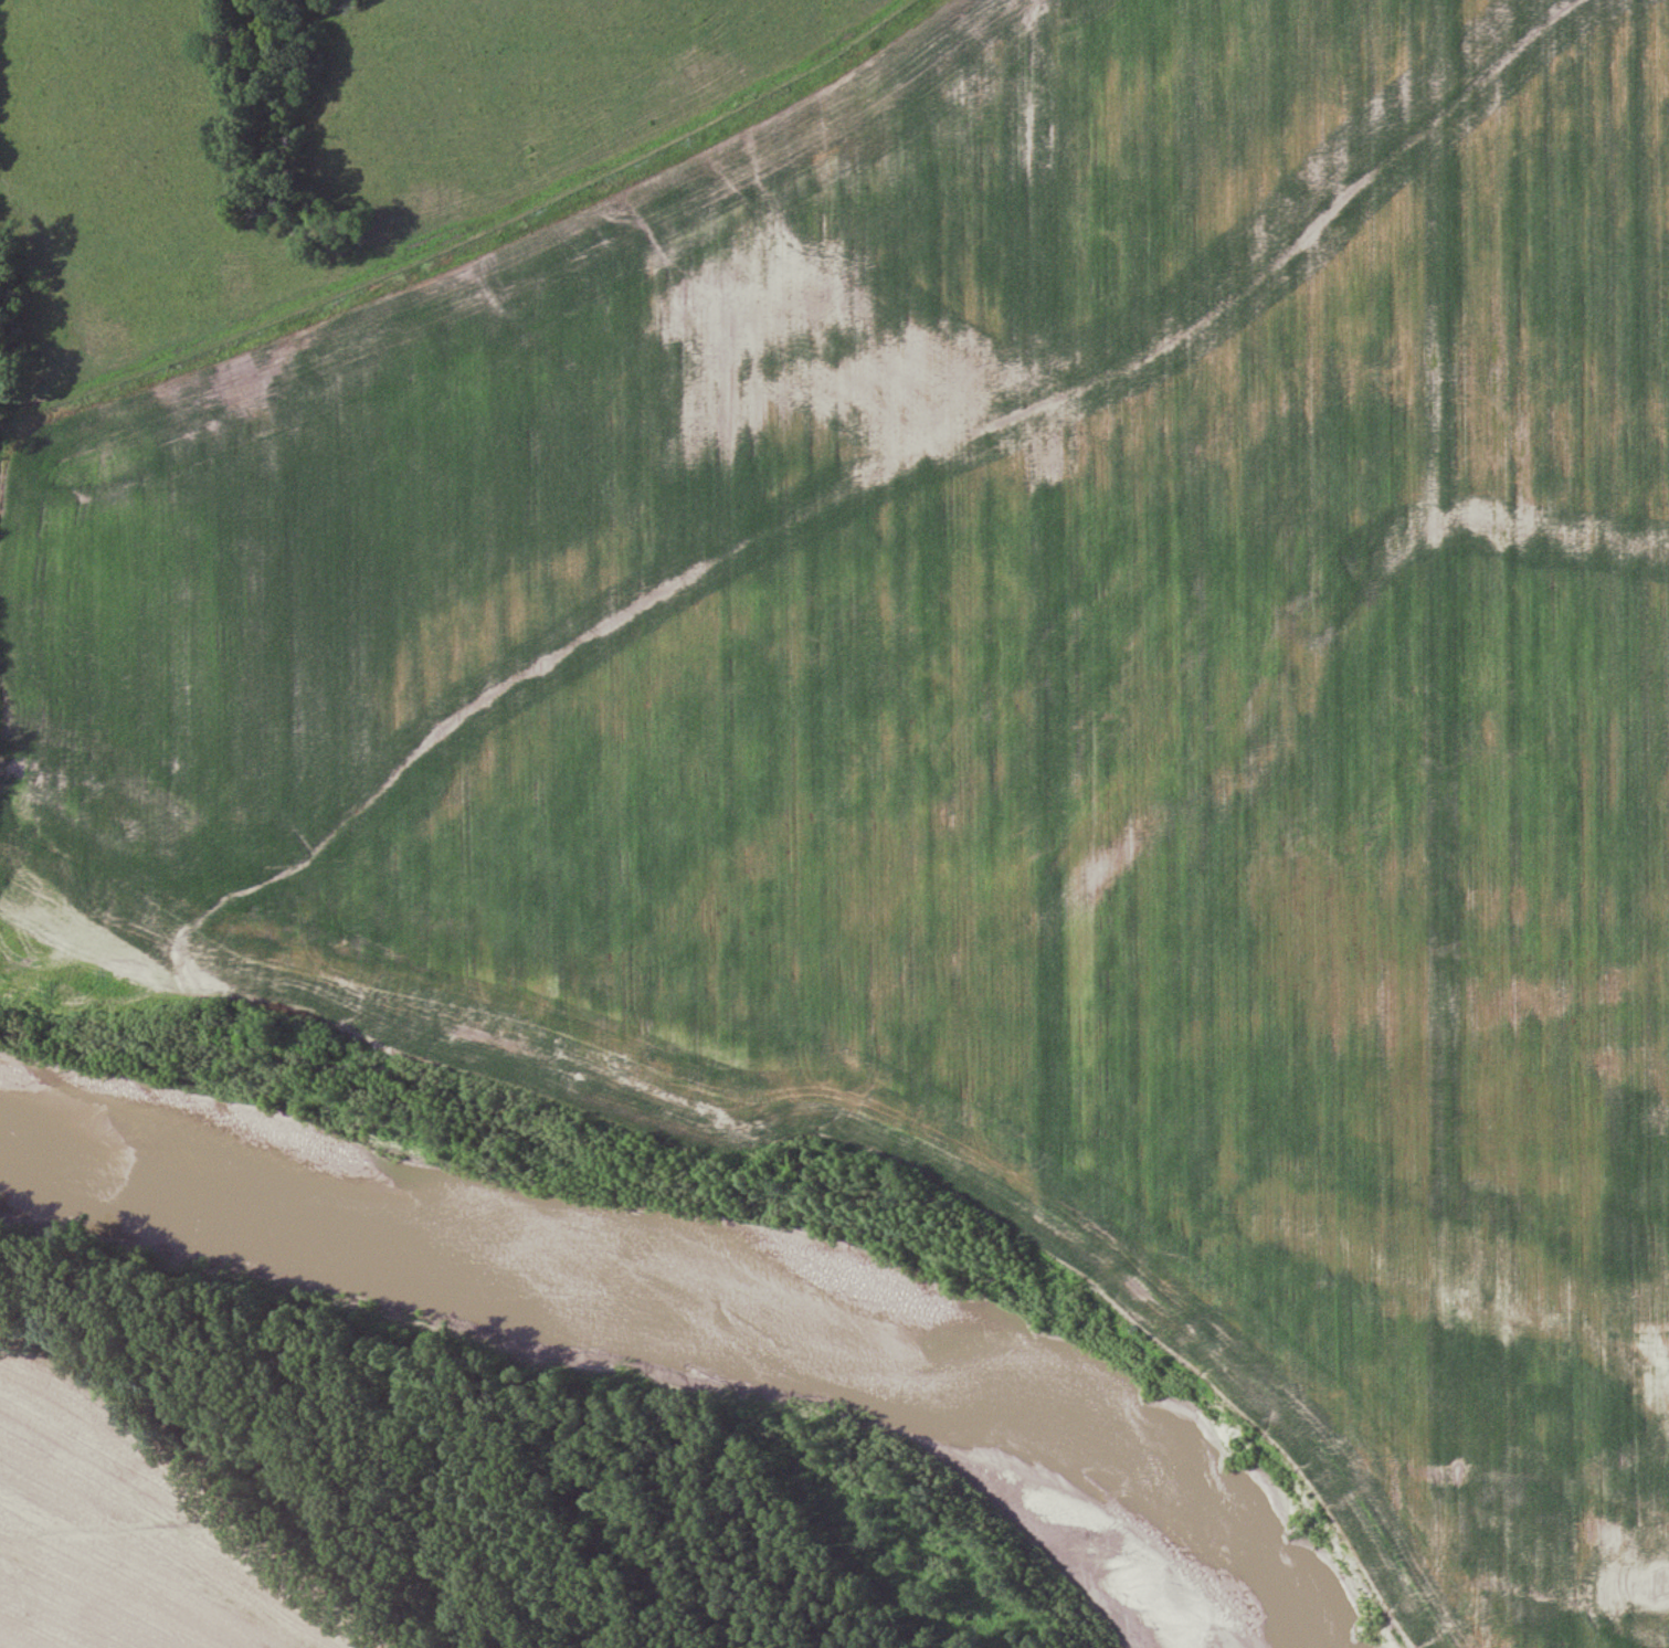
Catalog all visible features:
river: (721, 1316)
park: (436, 1478)
crop: (117, 1547)

